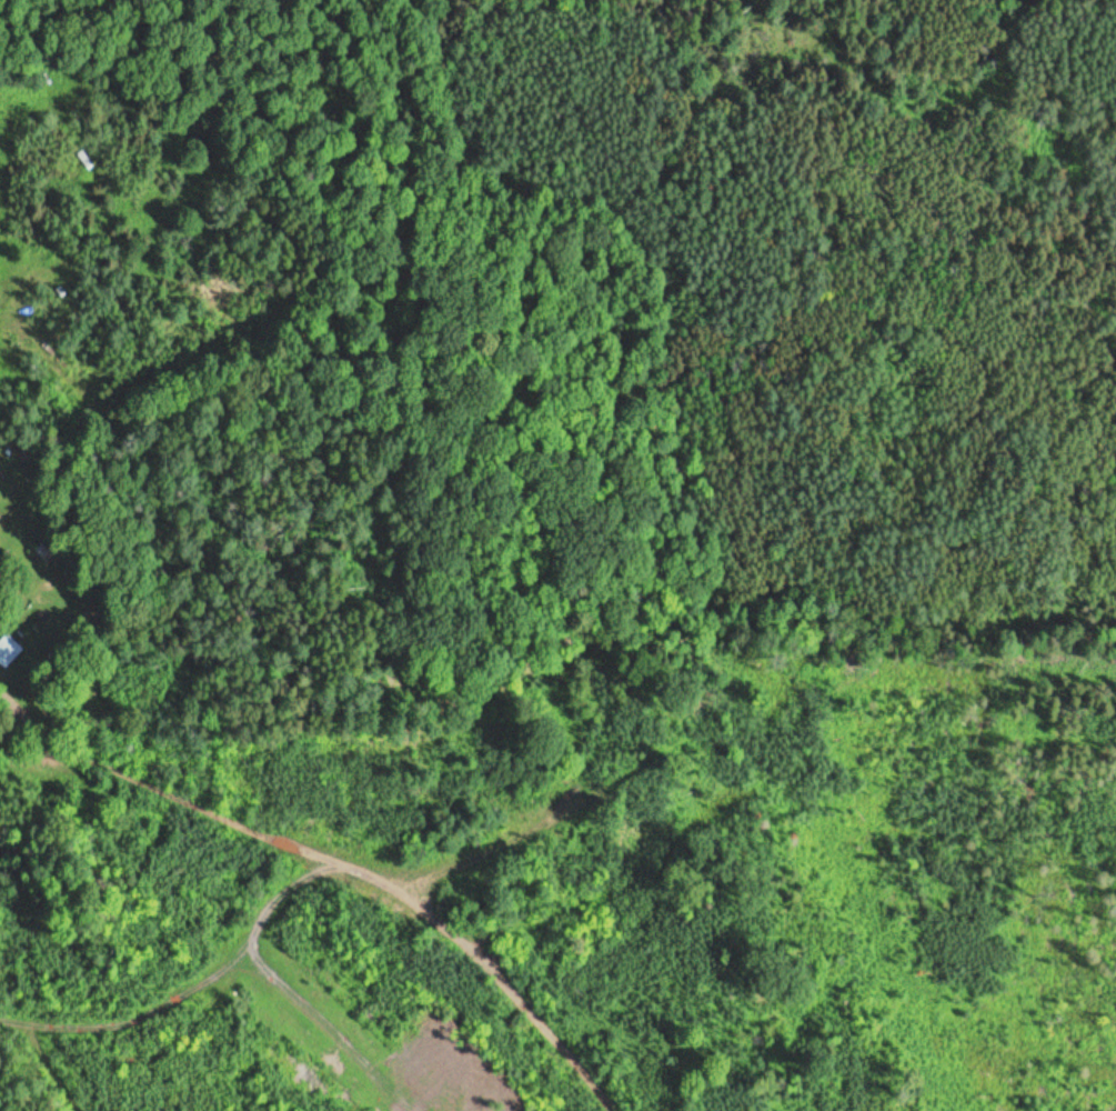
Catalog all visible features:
building: (8, 650)
road: (294, 842)
road: (658, 952)

